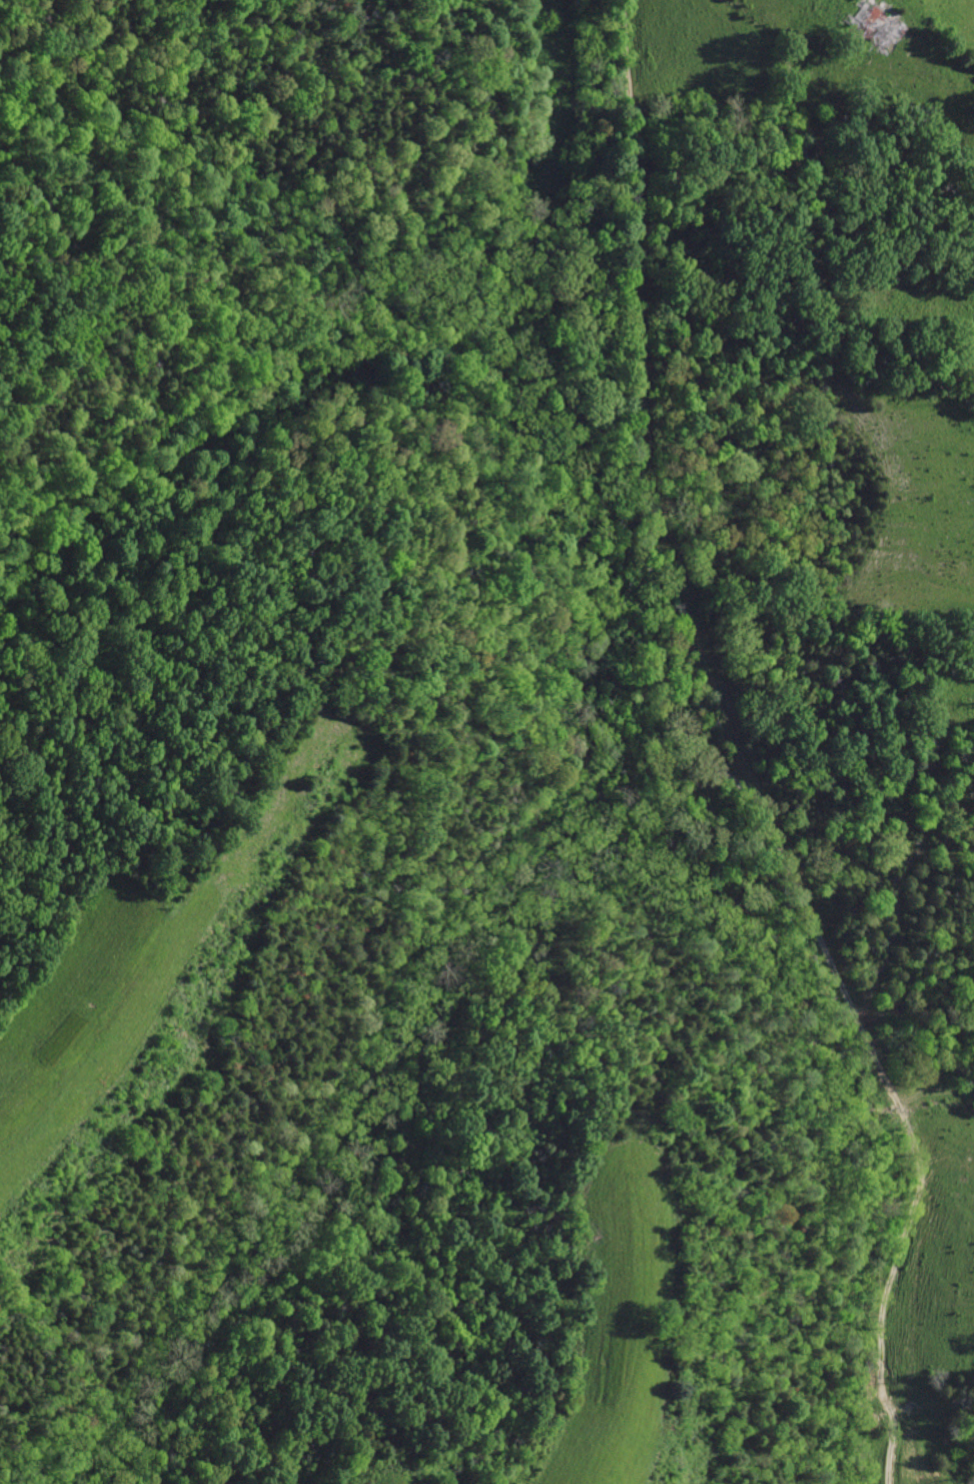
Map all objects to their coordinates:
road: (715, 762)

